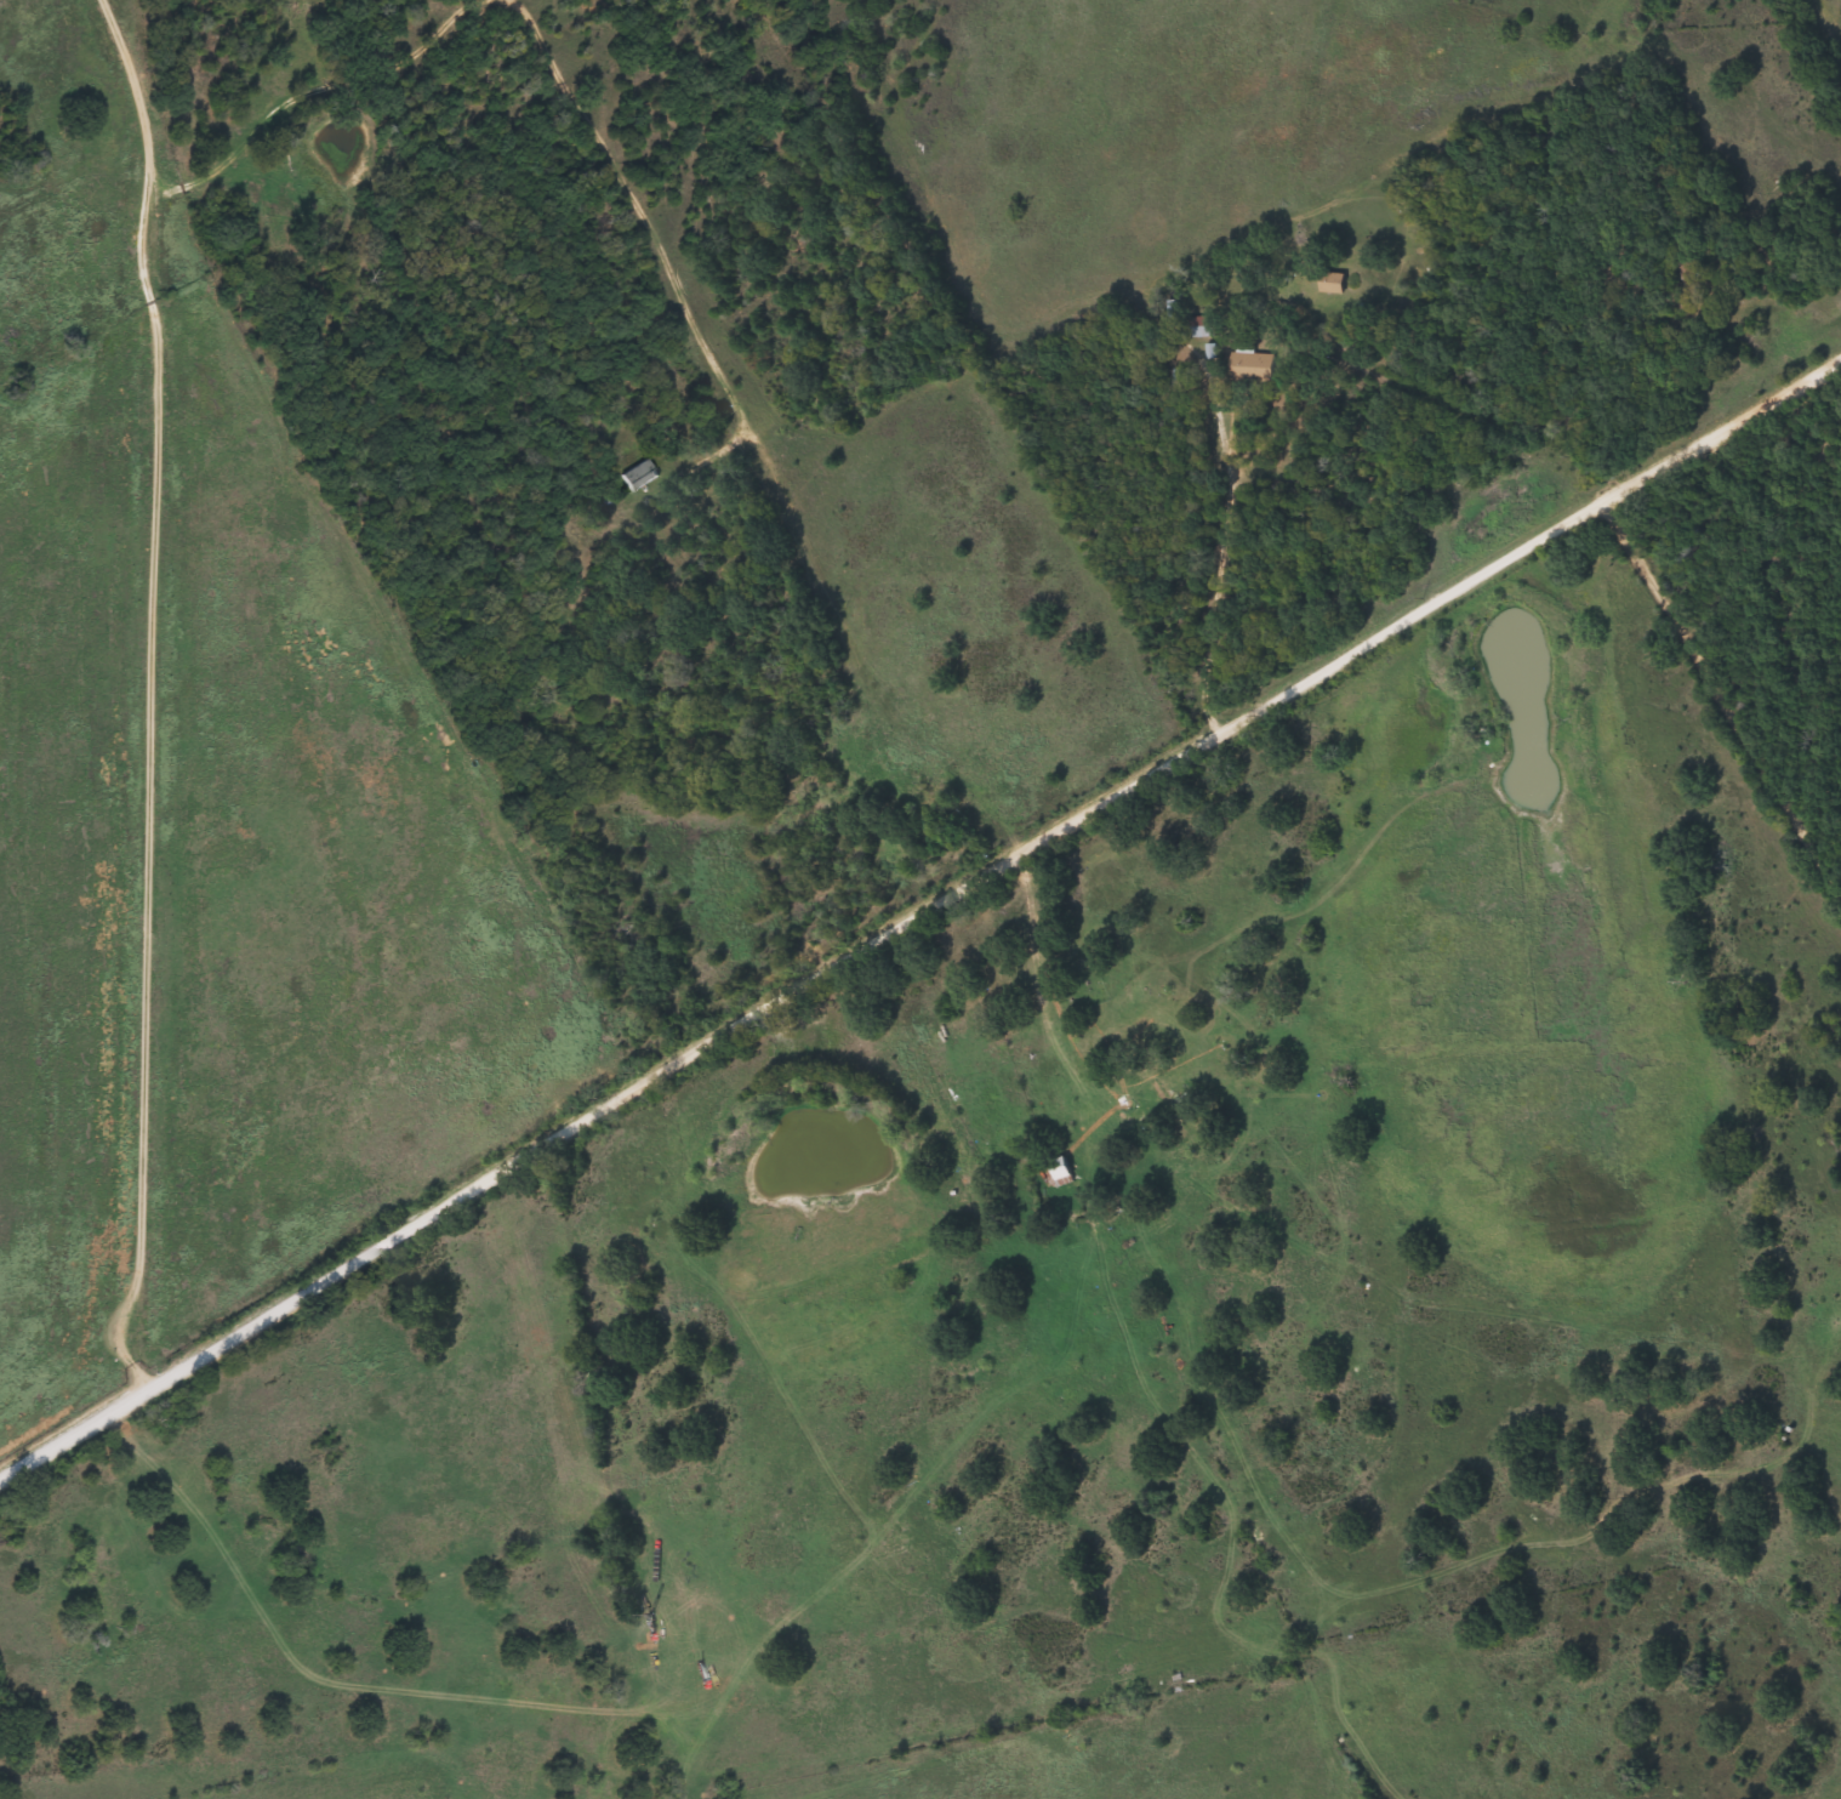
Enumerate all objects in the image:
building: (1334, 283)
building: (1201, 326)
building: (1254, 368)
building: (1179, 378)
road: (1191, 408)
building: (639, 476)
road: (854, 662)
road: (150, 689)
road: (1721, 713)
road: (1032, 856)
building: (1062, 1169)
road: (108, 1402)

